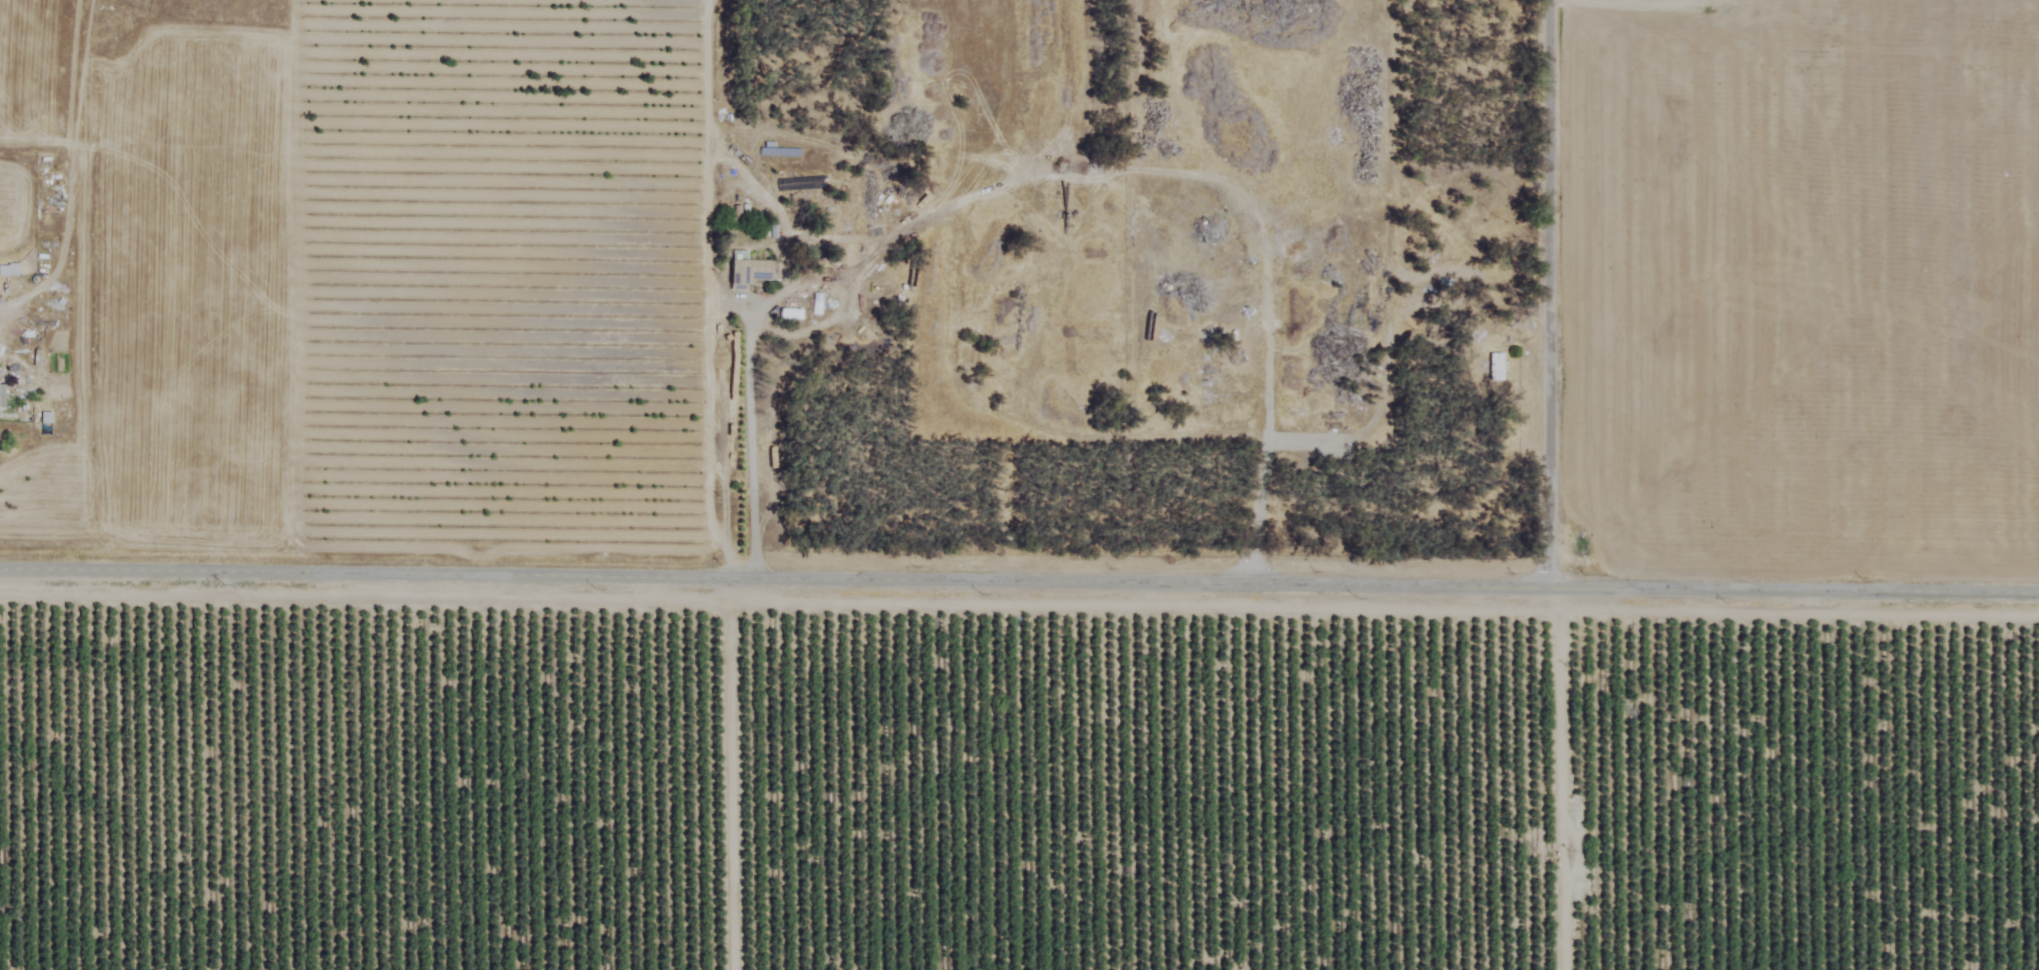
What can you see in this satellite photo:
building: (7, 270)
building: (746, 272)
road: (1547, 292)
building: (1495, 367)
building: (1, 396)
road: (751, 424)
road: (1019, 577)
crop: (1218, 649)

